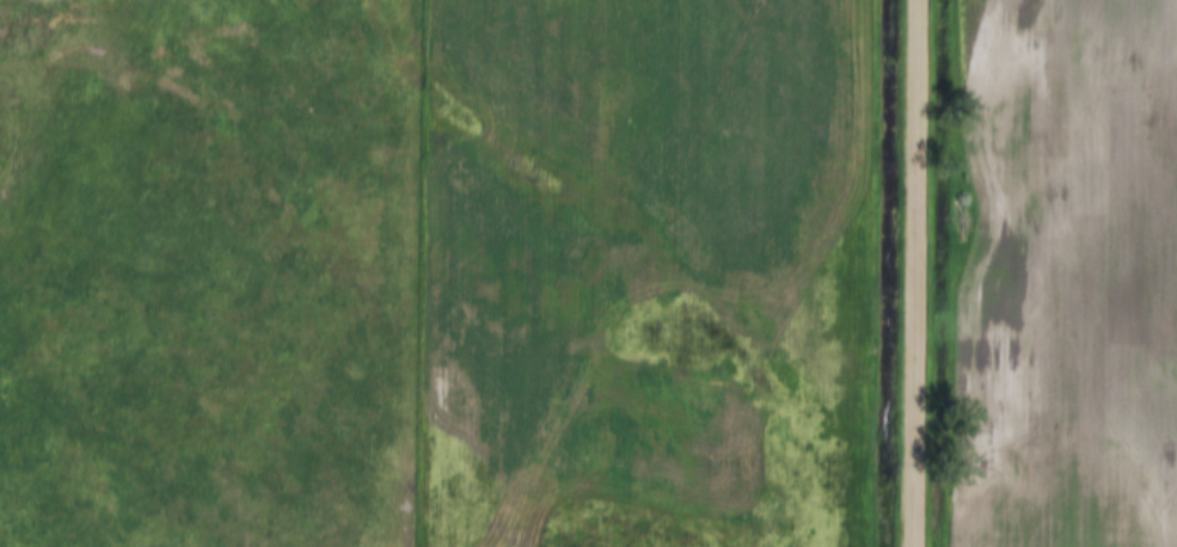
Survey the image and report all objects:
road: (922, 273)

